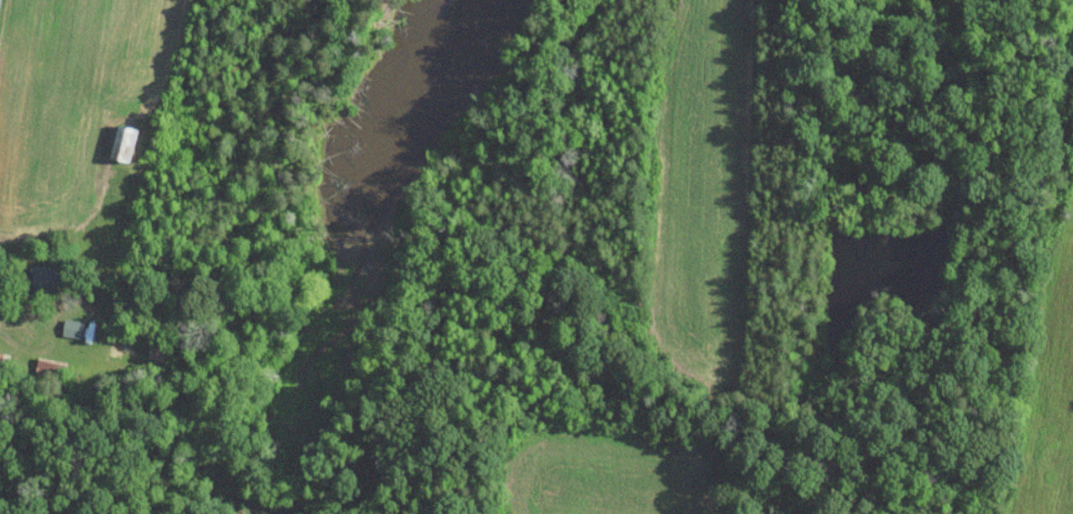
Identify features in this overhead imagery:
building: (123, 143)

